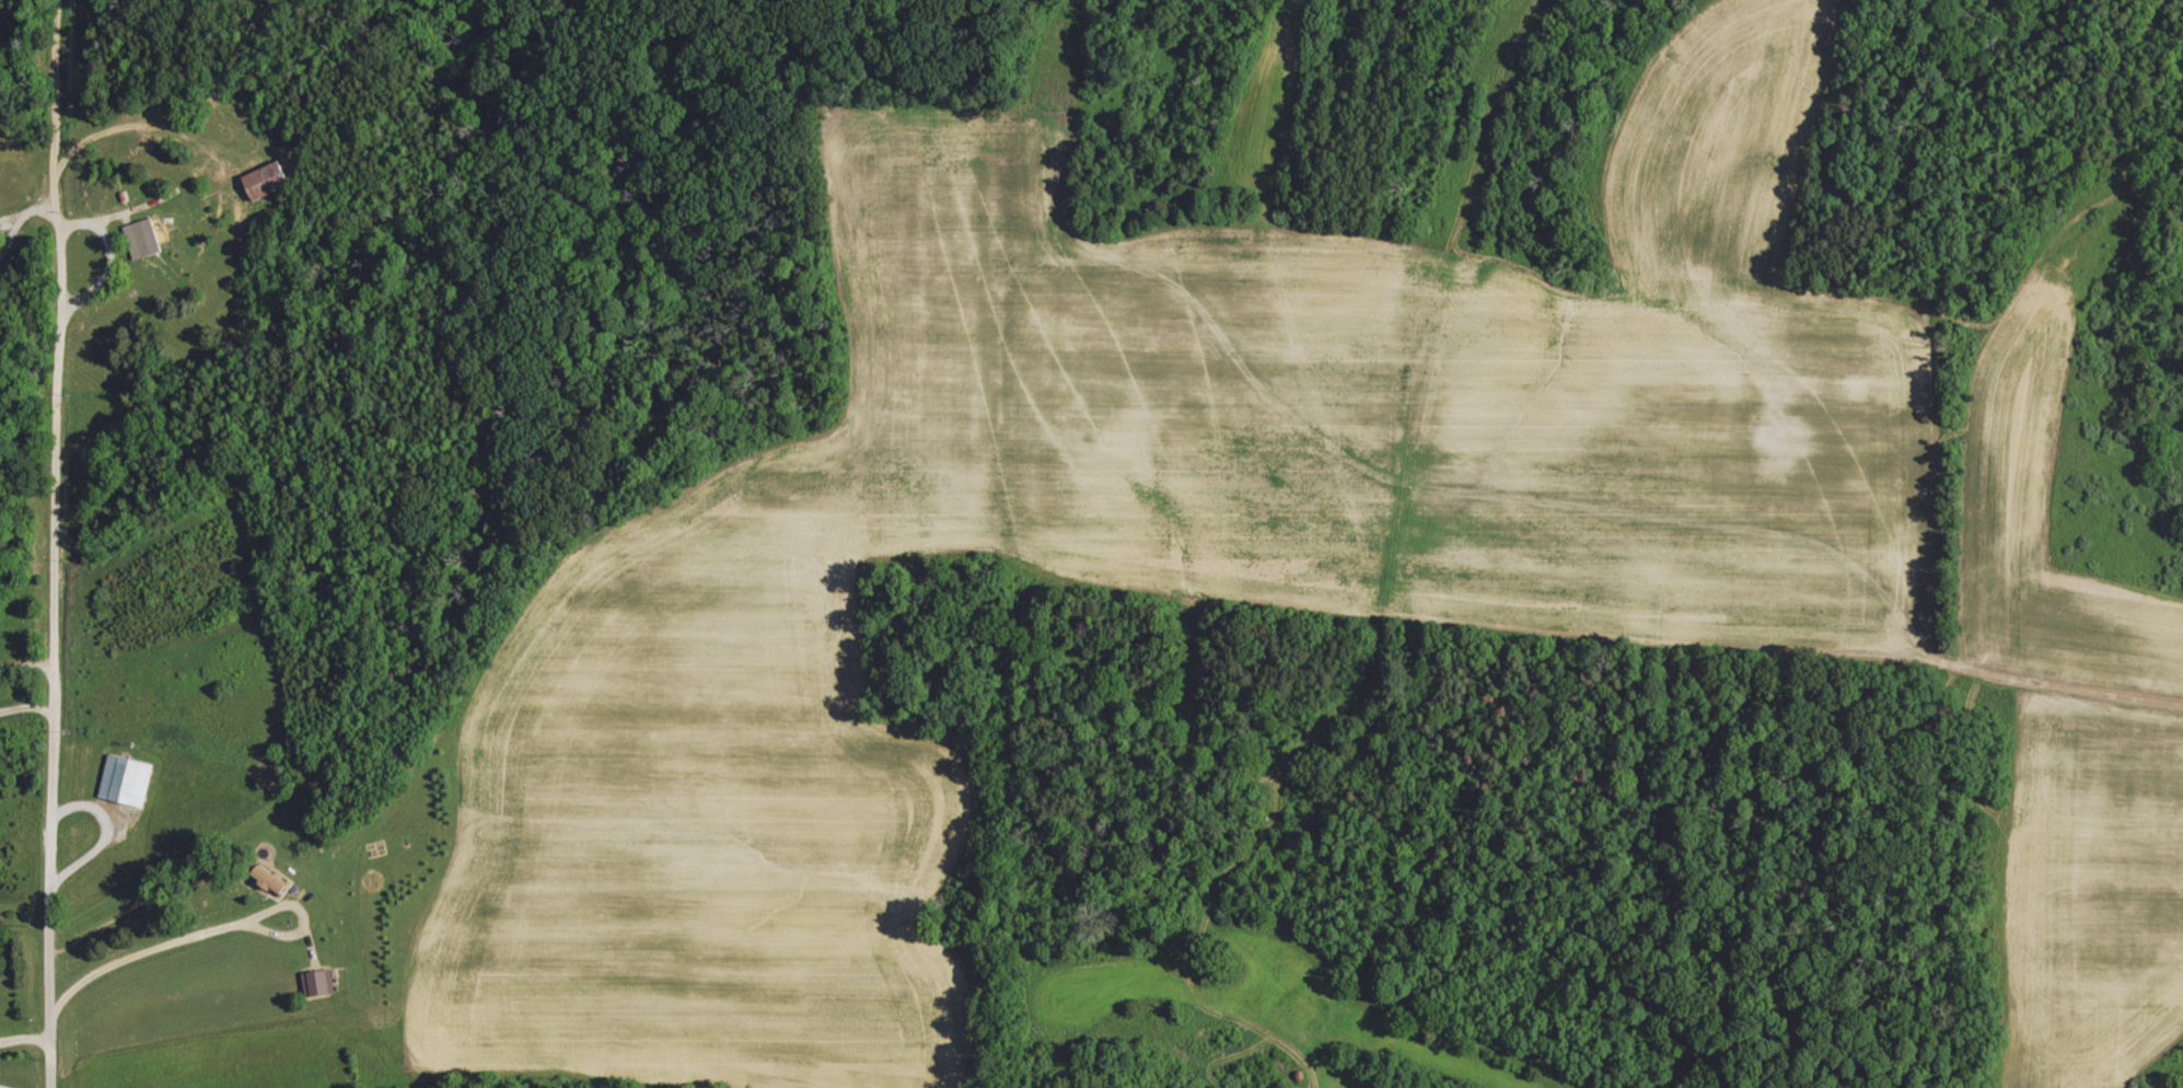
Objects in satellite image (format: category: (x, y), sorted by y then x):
road: (100, 113)
building: (267, 182)
building: (142, 240)
road: (1603, 504)
road: (55, 544)
road: (27, 658)
road: (26, 699)
building: (127, 780)
building: (269, 881)
road: (165, 938)
building: (320, 982)
road: (24, 1035)

